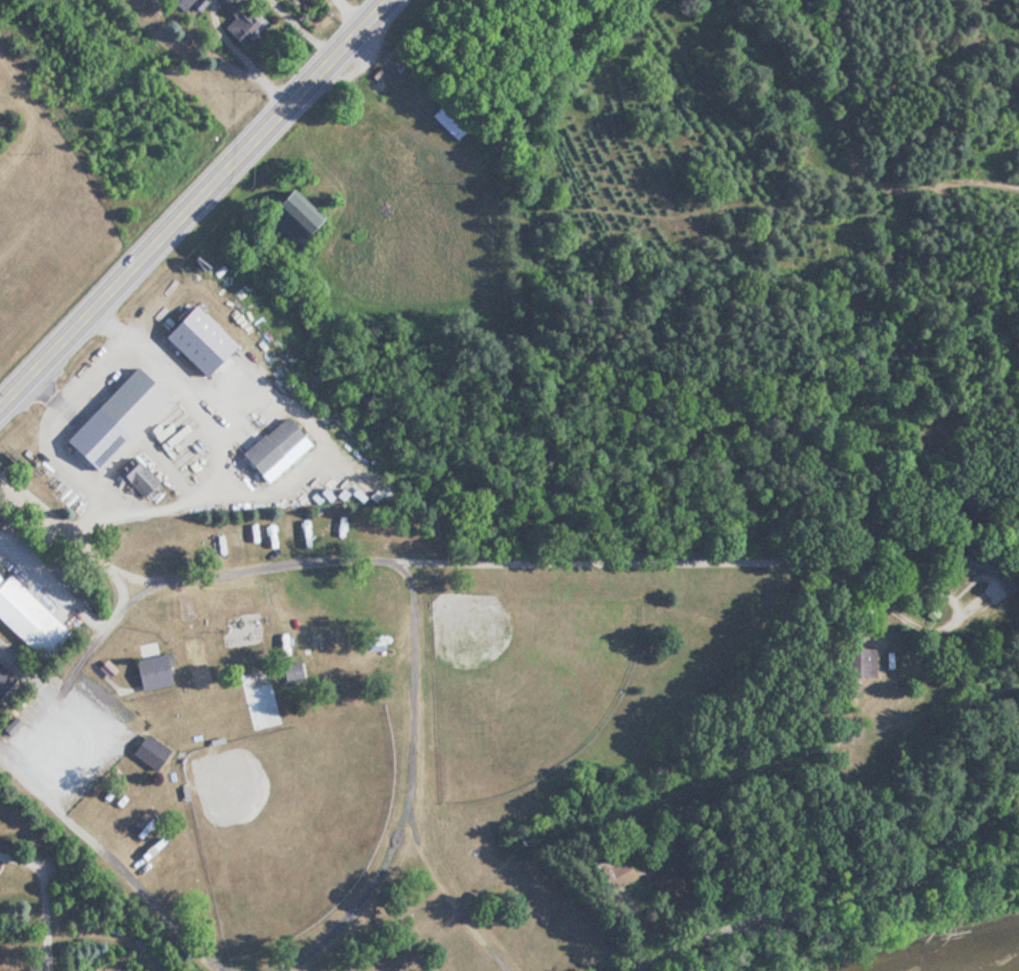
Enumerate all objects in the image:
building: (185, 6)
building: (241, 24)
road: (196, 208)
building: (282, 218)
park: (53, 243)
building: (191, 339)
building: (270, 450)
road: (880, 512)
road: (466, 570)
building: (23, 617)
building: (241, 628)
building: (377, 640)
building: (857, 662)
building: (149, 672)
building: (291, 672)
building: (4, 678)
park: (523, 678)
road: (953, 685)
building: (145, 751)
park: (285, 817)
building: (613, 869)
road: (833, 910)
road: (51, 920)
river: (1008, 967)

